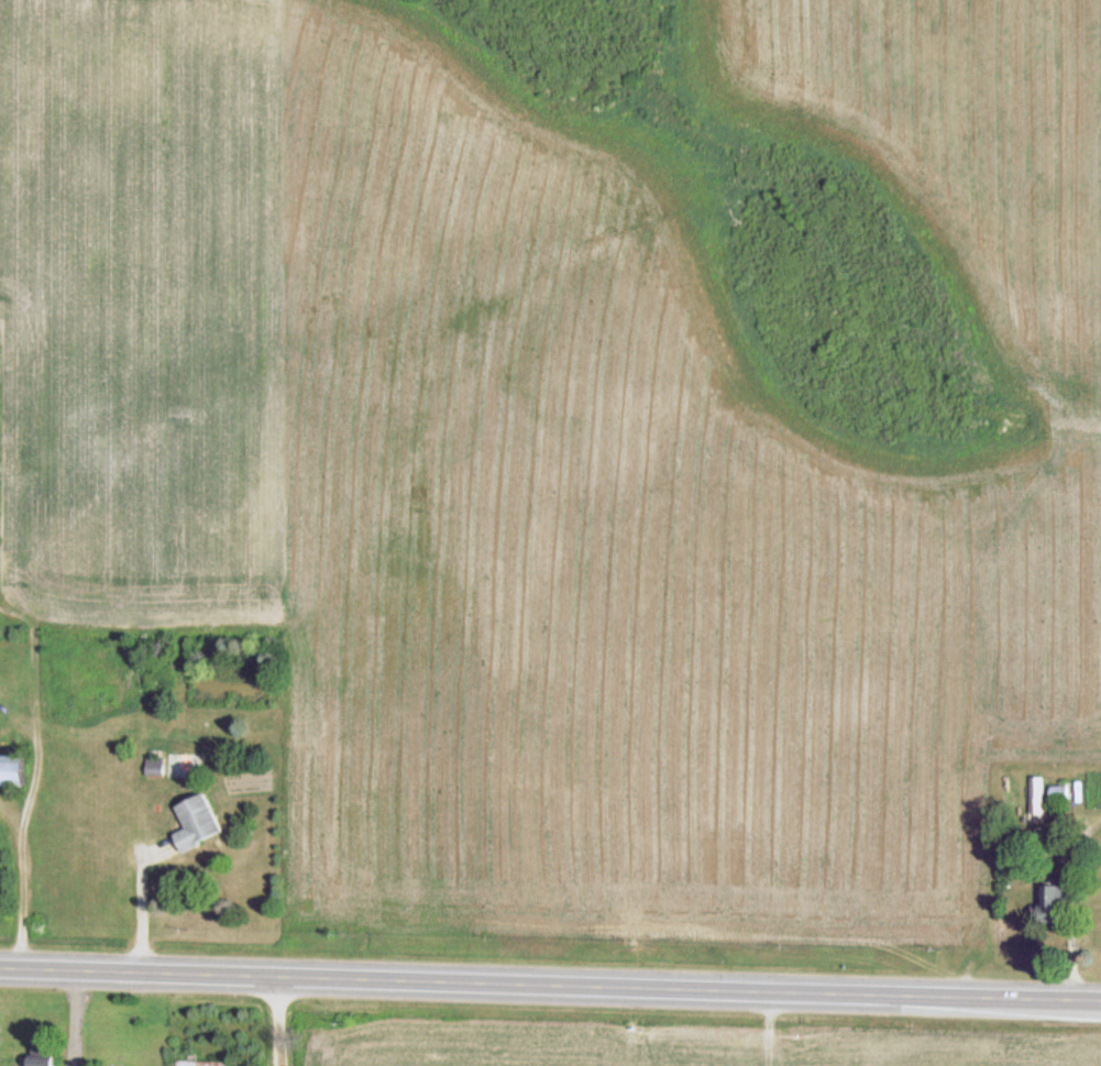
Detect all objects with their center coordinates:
building: (155, 766)
building: (12, 771)
building: (1060, 791)
building: (1037, 807)
building: (198, 823)
building: (1053, 905)
road: (550, 981)
road: (286, 1020)
building: (43, 1056)

